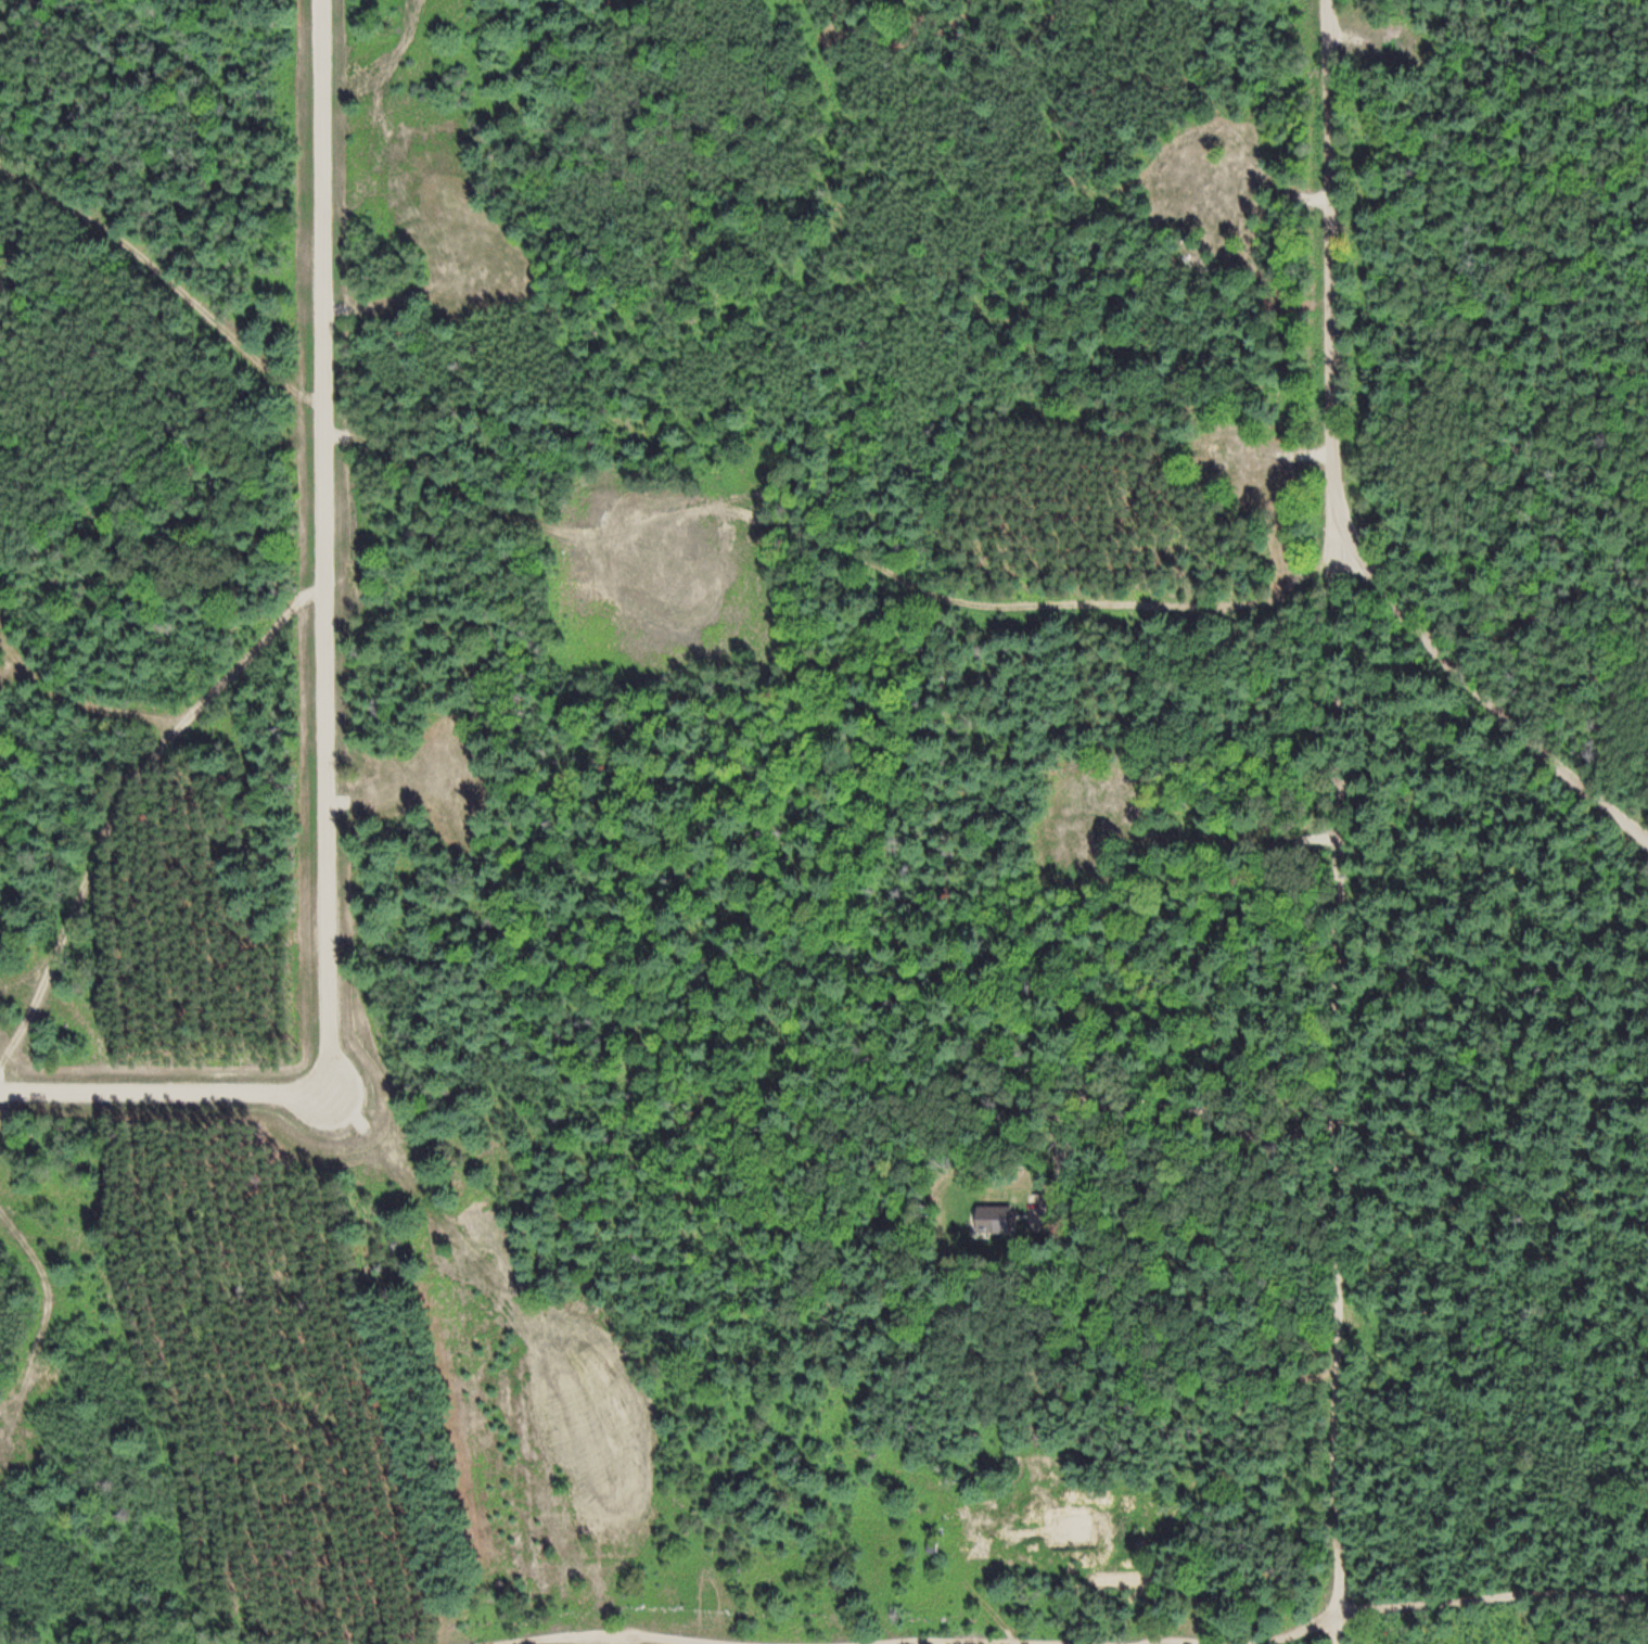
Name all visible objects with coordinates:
road: (169, 286)
road: (1337, 486)
road: (331, 713)
road: (1341, 1071)
road: (1449, 1585)
road: (1339, 1629)
road: (596, 1633)
road: (1039, 1642)

